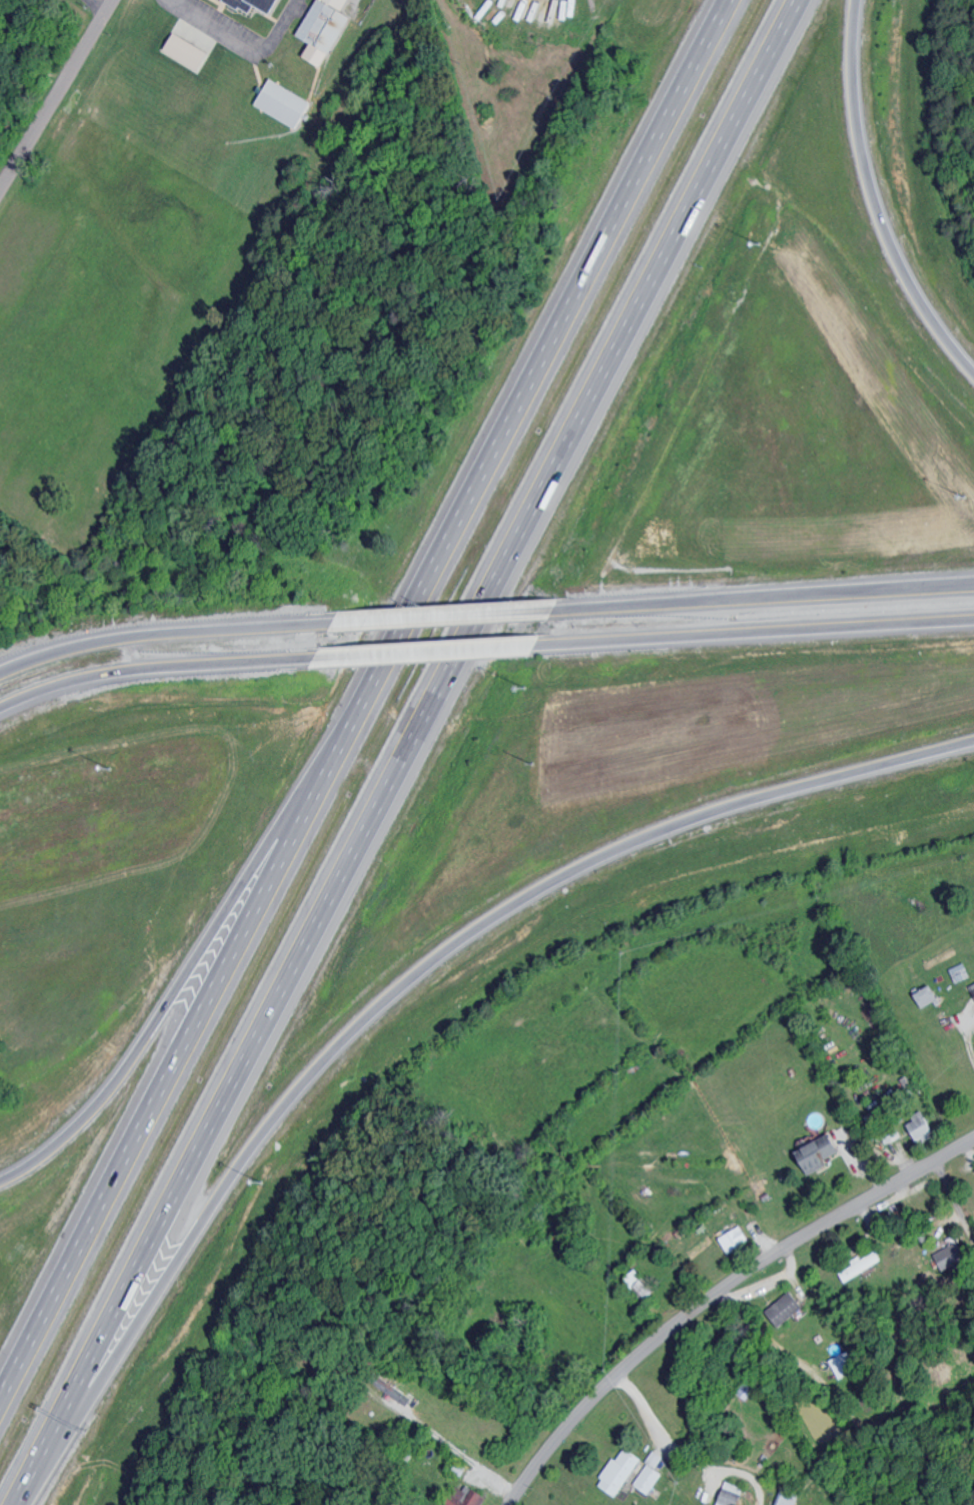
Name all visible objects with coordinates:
building: (248, 4)
road: (105, 5)
building: (318, 28)
road: (24, 36)
road: (257, 37)
building: (180, 50)
road: (38, 75)
road: (59, 101)
building: (280, 103)
road: (873, 202)
road: (757, 600)
road: (449, 620)
road: (755, 633)
road: (176, 636)
road: (441, 652)
road: (168, 669)
road: (363, 697)
road: (404, 752)
road: (189, 969)
building: (958, 973)
building: (971, 992)
road: (394, 996)
building: (921, 997)
road: (971, 1029)
building: (915, 1125)
building: (886, 1132)
building: (812, 1154)
road: (955, 1196)
building: (736, 1239)
building: (950, 1257)
building: (863, 1265)
road: (717, 1291)
building: (788, 1305)
road: (465, 1454)
road: (684, 1454)
building: (622, 1470)
building: (651, 1472)
building: (734, 1494)
building: (468, 1495)
building: (792, 1497)

